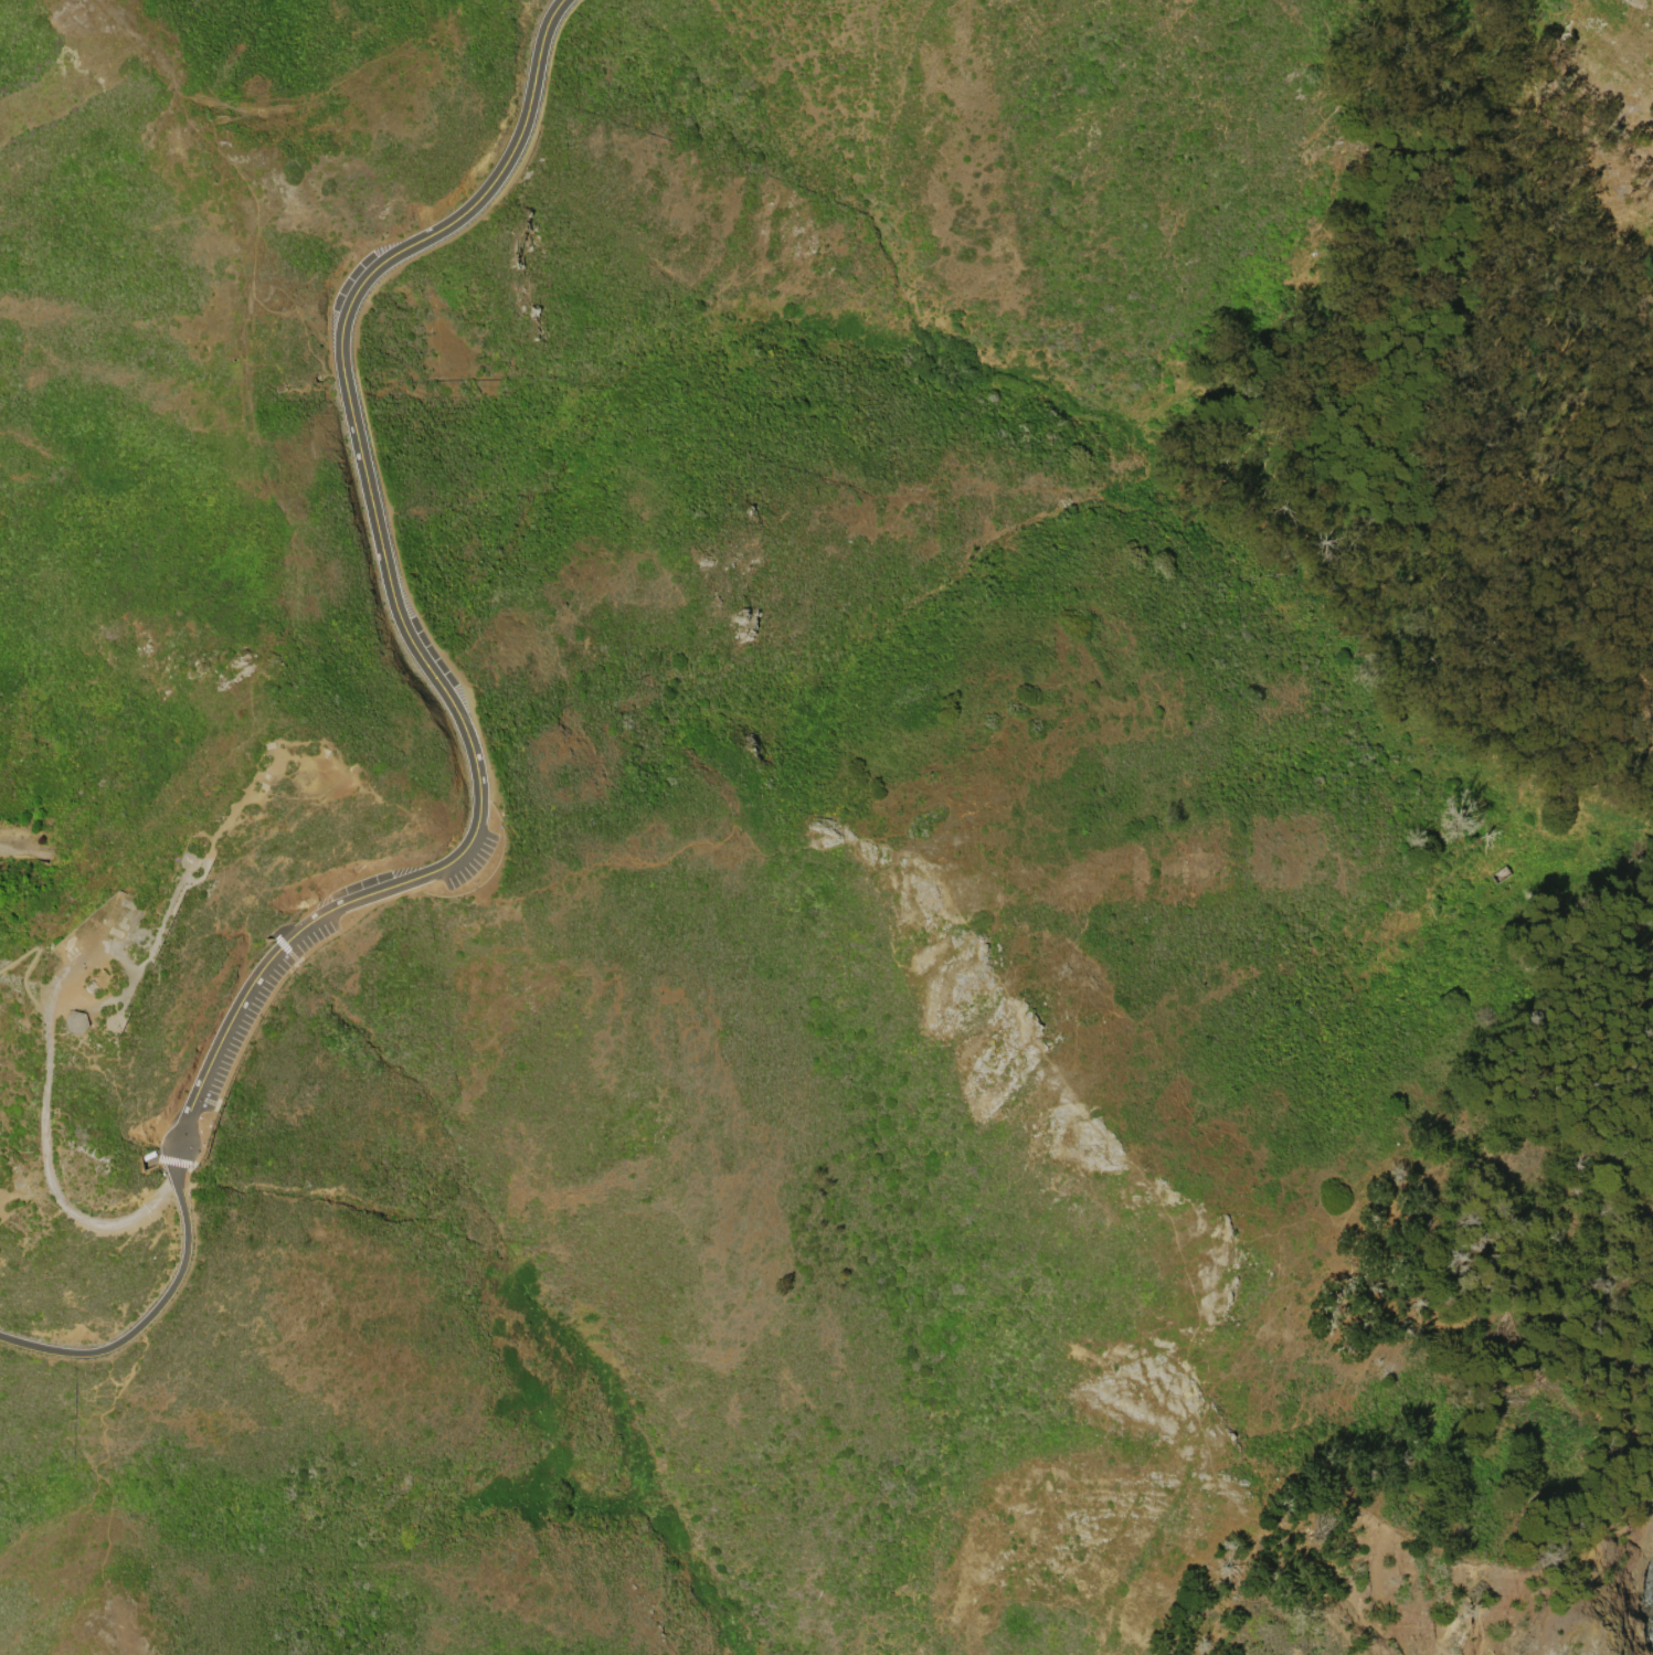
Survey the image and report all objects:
parking lot: (343, 285)
road: (400, 616)
road: (430, 635)
parking lot: (432, 649)
road: (1651, 668)
road: (218, 831)
road: (24, 849)
parking lot: (475, 858)
parking lot: (360, 885)
road: (282, 938)
road: (30, 962)
building: (75, 1020)
parking lot: (239, 1041)
road: (45, 1064)
road: (158, 1159)
road: (10, 1195)
road: (151, 1315)

